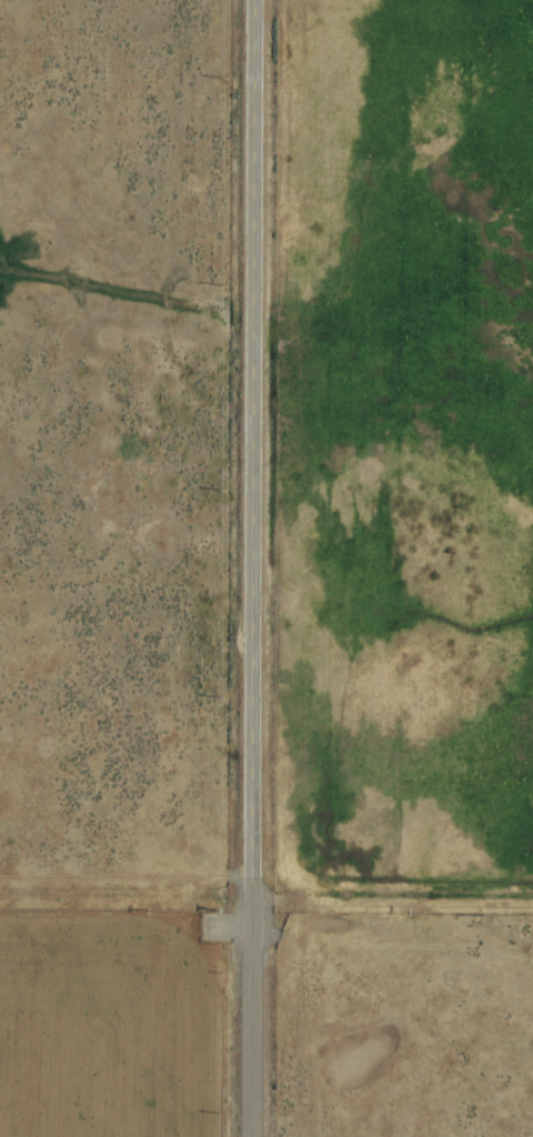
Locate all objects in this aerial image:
road: (251, 452)
crop: (266, 568)
road: (390, 905)
road: (247, 1020)

